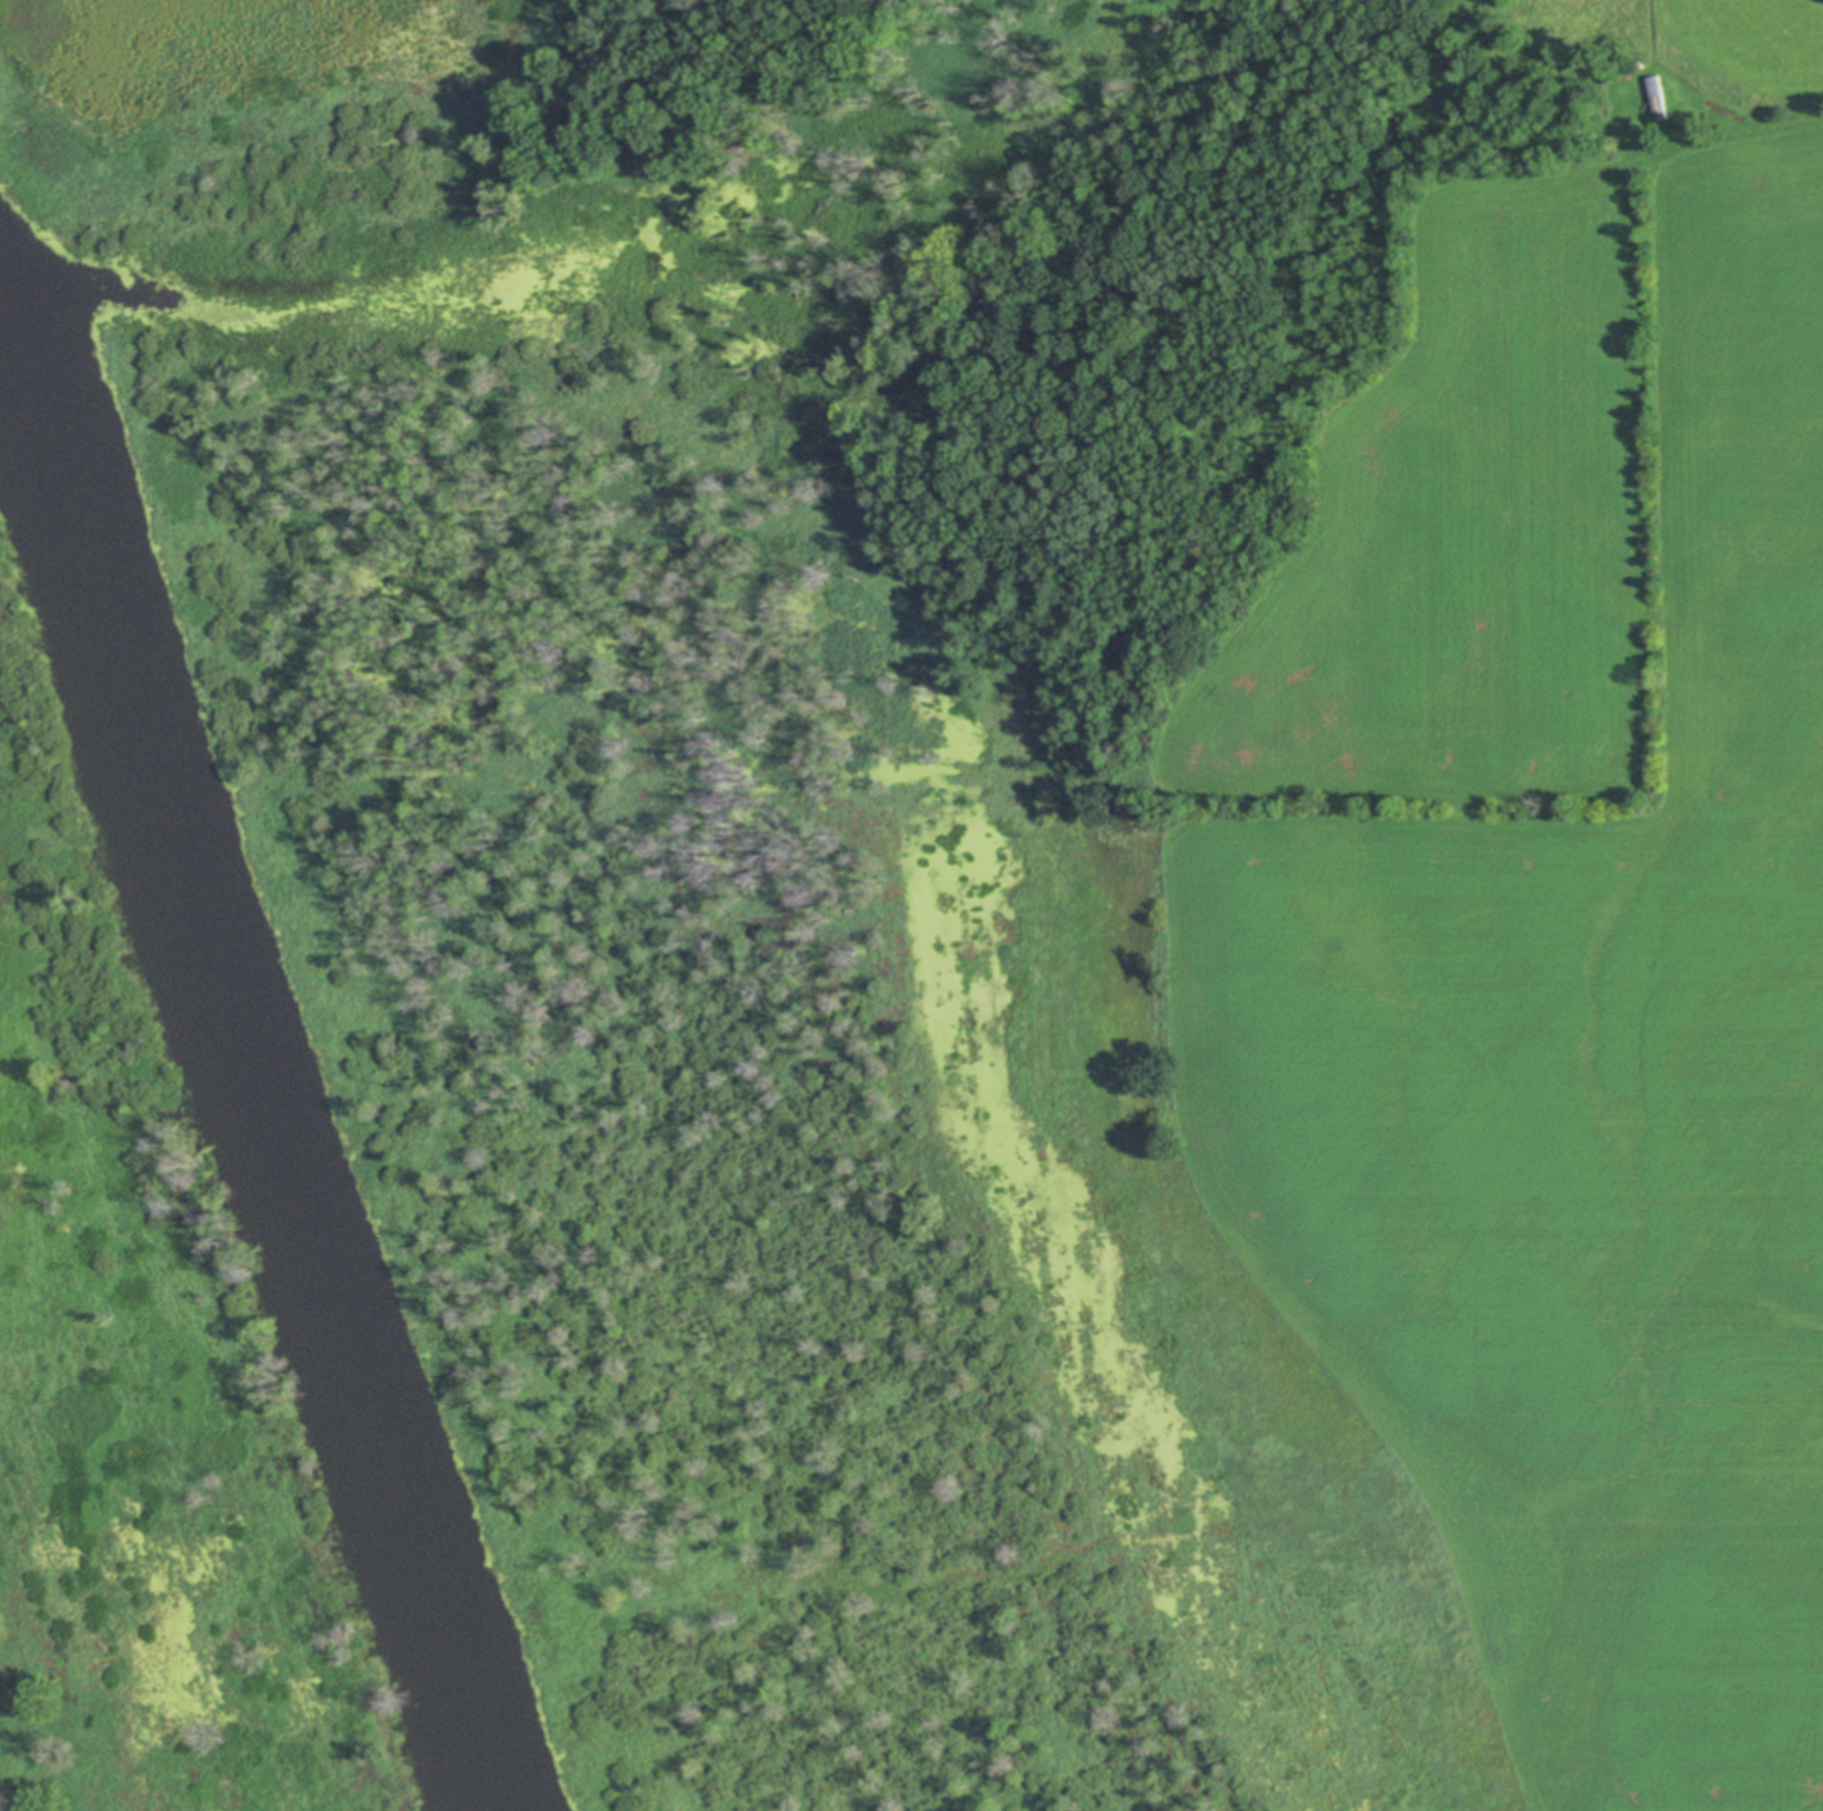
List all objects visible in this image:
building: (1664, 98)
river: (262, 1064)

